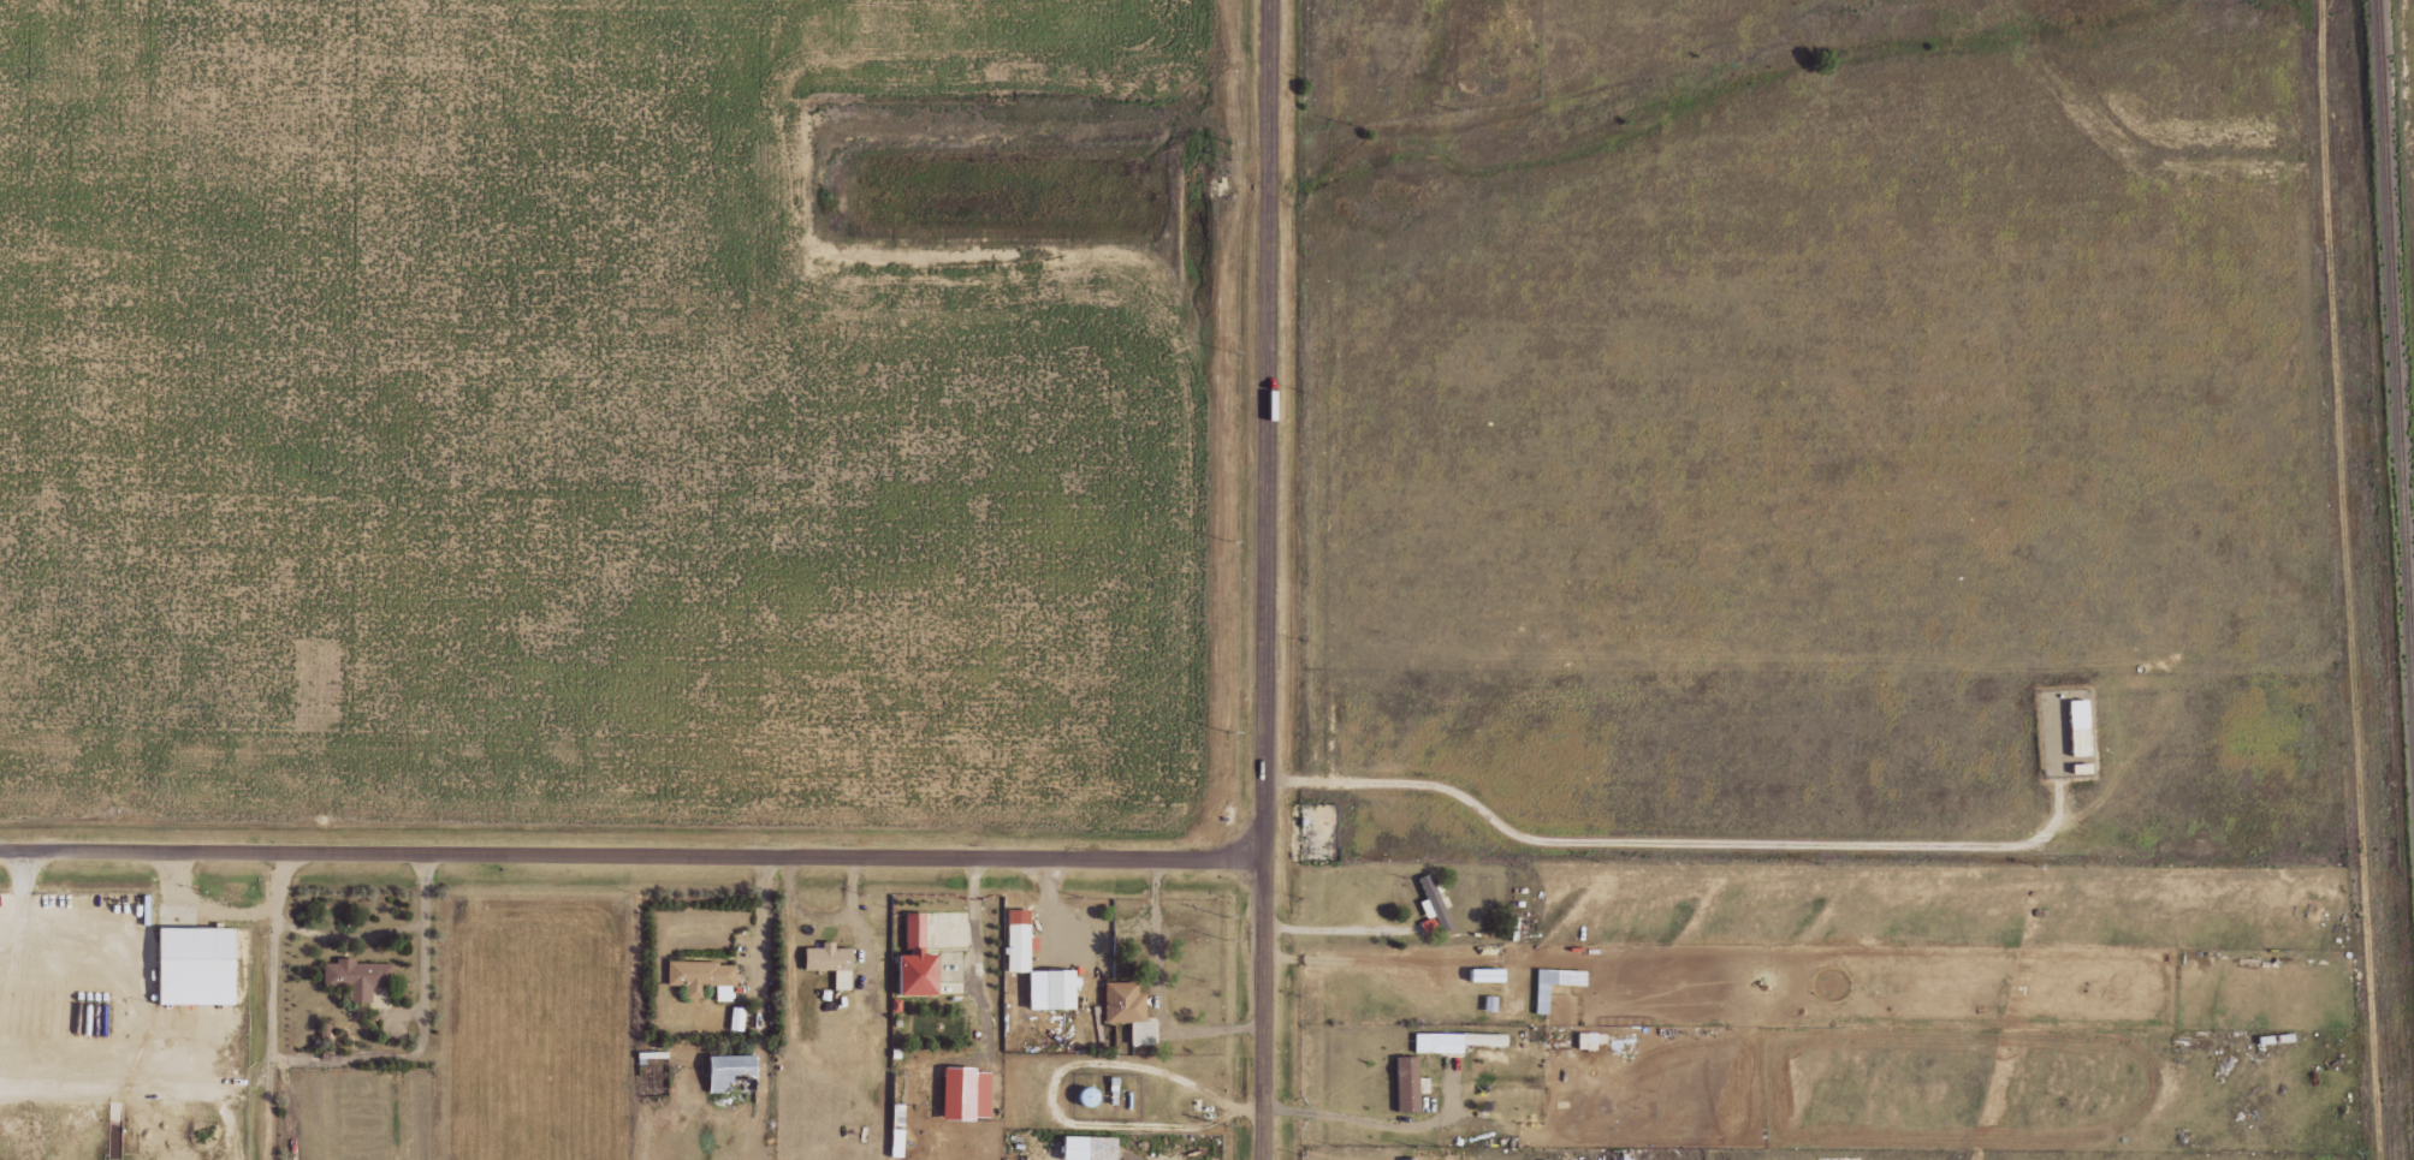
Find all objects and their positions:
railway: (2396, 327)
road: (1267, 579)
building: (2081, 728)
road: (633, 847)
building: (1435, 909)
building: (1020, 940)
building: (920, 960)
building: (832, 963)
building: (200, 966)
building: (358, 976)
building: (704, 978)
building: (1063, 989)
building: (1543, 999)
building: (1131, 1011)
building: (737, 1018)
building: (1592, 1040)
building: (1449, 1042)
building: (732, 1070)
building: (1410, 1084)
building: (962, 1094)
building: (900, 1130)
building: (1092, 1148)
building: (1410, 1159)

